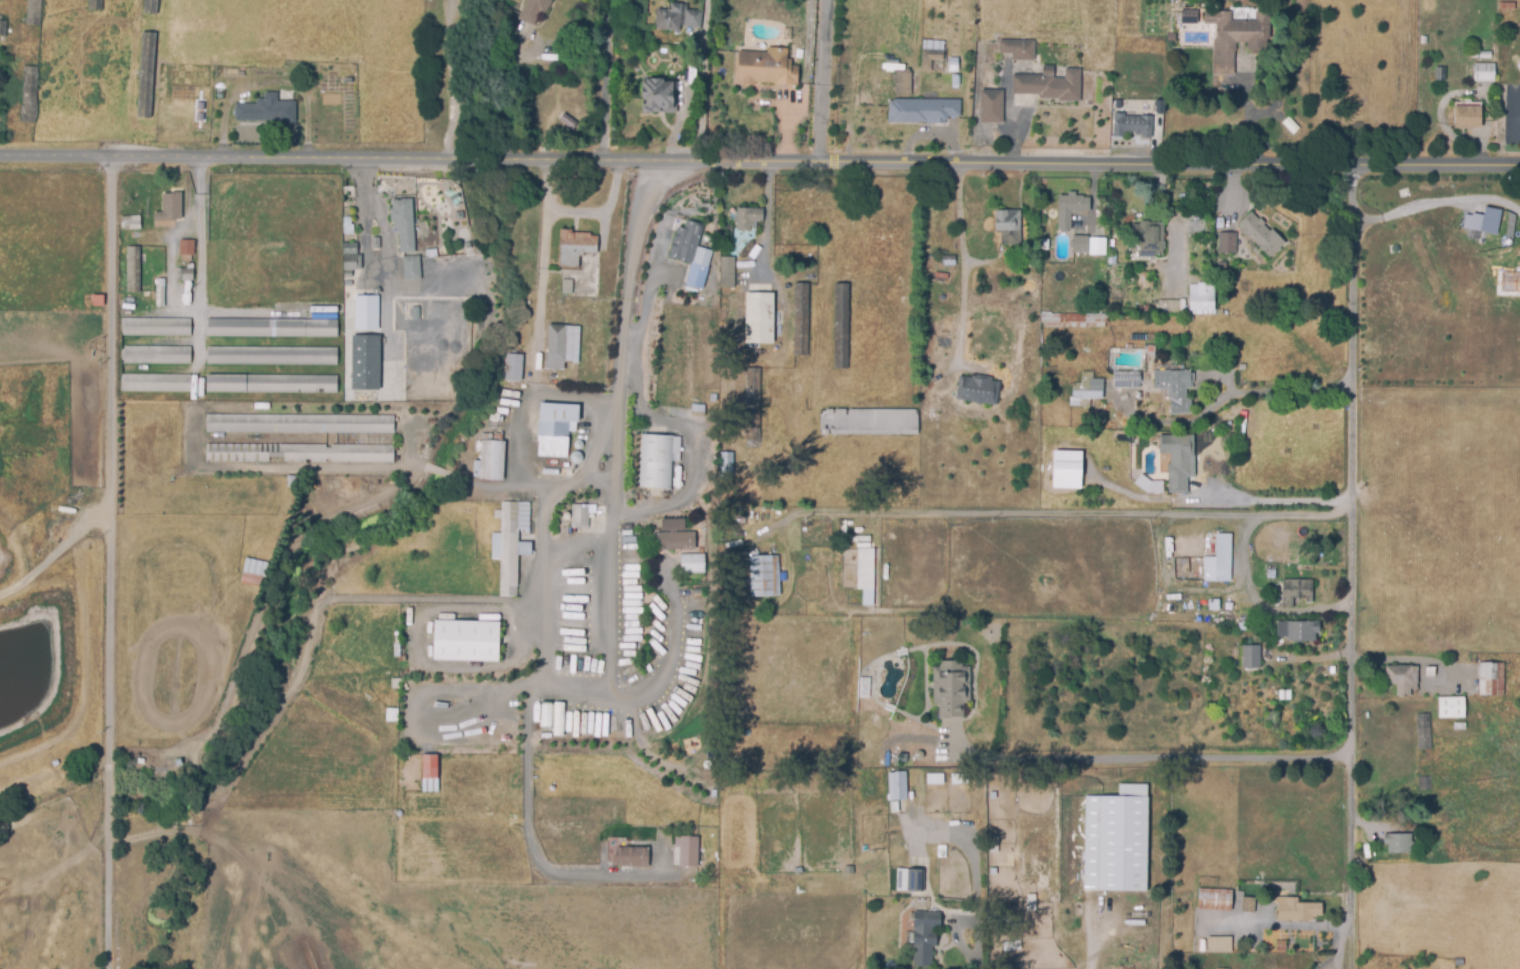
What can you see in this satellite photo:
building: (94, 3)
building: (1510, 6)
building: (150, 7)
building: (533, 10)
building: (33, 12)
building: (676, 16)
building: (1189, 16)
building: (3, 28)
building: (1236, 36)
building: (1018, 48)
building: (634, 51)
road: (448, 52)
building: (1484, 54)
building: (930, 58)
building: (767, 68)
road: (493, 69)
building: (1480, 71)
building: (146, 76)
road: (601, 81)
road: (702, 82)
road: (822, 82)
road: (801, 83)
building: (906, 84)
building: (1049, 85)
building: (27, 95)
building: (656, 95)
building: (1118, 104)
building: (992, 105)
building: (1158, 105)
building: (925, 110)
building: (266, 111)
road: (1246, 115)
building: (1467, 116)
building: (566, 120)
building: (1135, 123)
building: (1292, 127)
road: (449, 132)
road: (759, 164)
road: (1436, 202)
building: (1071, 207)
building: (170, 208)
road: (599, 212)
road: (766, 219)
building: (1482, 220)
building: (129, 223)
building: (403, 224)
building: (1009, 225)
building: (348, 226)
building: (742, 228)
road: (1172, 231)
building: (1261, 233)
building: (1149, 237)
building: (1227, 242)
building: (376, 244)
building: (1080, 244)
building: (1092, 244)
building: (689, 246)
building: (574, 247)
building: (186, 249)
building: (431, 254)
building: (349, 256)
building: (948, 260)
road: (171, 264)
road: (198, 264)
building: (411, 267)
building: (728, 267)
building: (131, 269)
road: (542, 269)
building: (183, 275)
road: (961, 277)
road: (433, 285)
building: (567, 287)
building: (159, 293)
building: (1201, 298)
building: (95, 302)
building: (1168, 306)
building: (759, 315)
building: (1073, 319)
building: (800, 320)
building: (841, 327)
building: (270, 328)
building: (155, 329)
building: (365, 347)
building: (560, 347)
building: (154, 356)
building: (271, 357)
road: (386, 366)
building: (512, 367)
building: (1126, 379)
building: (154, 384)
building: (271, 385)
building: (1176, 387)
building: (1085, 388)
building: (977, 389)
road: (1225, 395)
building: (753, 409)
building: (869, 422)
building: (298, 424)
building: (553, 436)
building: (300, 454)
building: (1178, 459)
building: (491, 461)
building: (655, 461)
road: (703, 464)
building: (1065, 469)
road: (1266, 503)
road: (1054, 512)
road: (1350, 515)
building: (580, 518)
building: (675, 541)
building: (510, 543)
road: (614, 557)
building: (1219, 560)
road: (117, 563)
building: (690, 563)
building: (865, 574)
road: (578, 575)
building: (764, 576)
building: (252, 580)
building: (1297, 590)
road: (460, 602)
road: (1257, 602)
building: (1214, 604)
building: (1242, 625)
building: (1298, 629)
building: (465, 642)
building: (397, 651)
building: (1252, 656)
road: (234, 668)
building: (1431, 670)
building: (1402, 677)
building: (1491, 678)
building: (395, 685)
building: (409, 687)
building: (951, 687)
building: (1452, 706)
building: (391, 716)
building: (1270, 720)
building: (1423, 731)
road: (1152, 758)
building: (429, 768)
building: (1425, 782)
building: (896, 785)
building: (1116, 840)
building: (1399, 842)
building: (684, 851)
building: (630, 856)
building: (908, 879)
building: (1215, 899)
building: (1248, 904)
building: (1299, 909)
road: (1348, 915)
road: (1284, 925)
building: (924, 937)
building: (1219, 944)
road: (1090, 945)
building: (1281, 945)
road: (980, 962)
road: (1331, 964)

